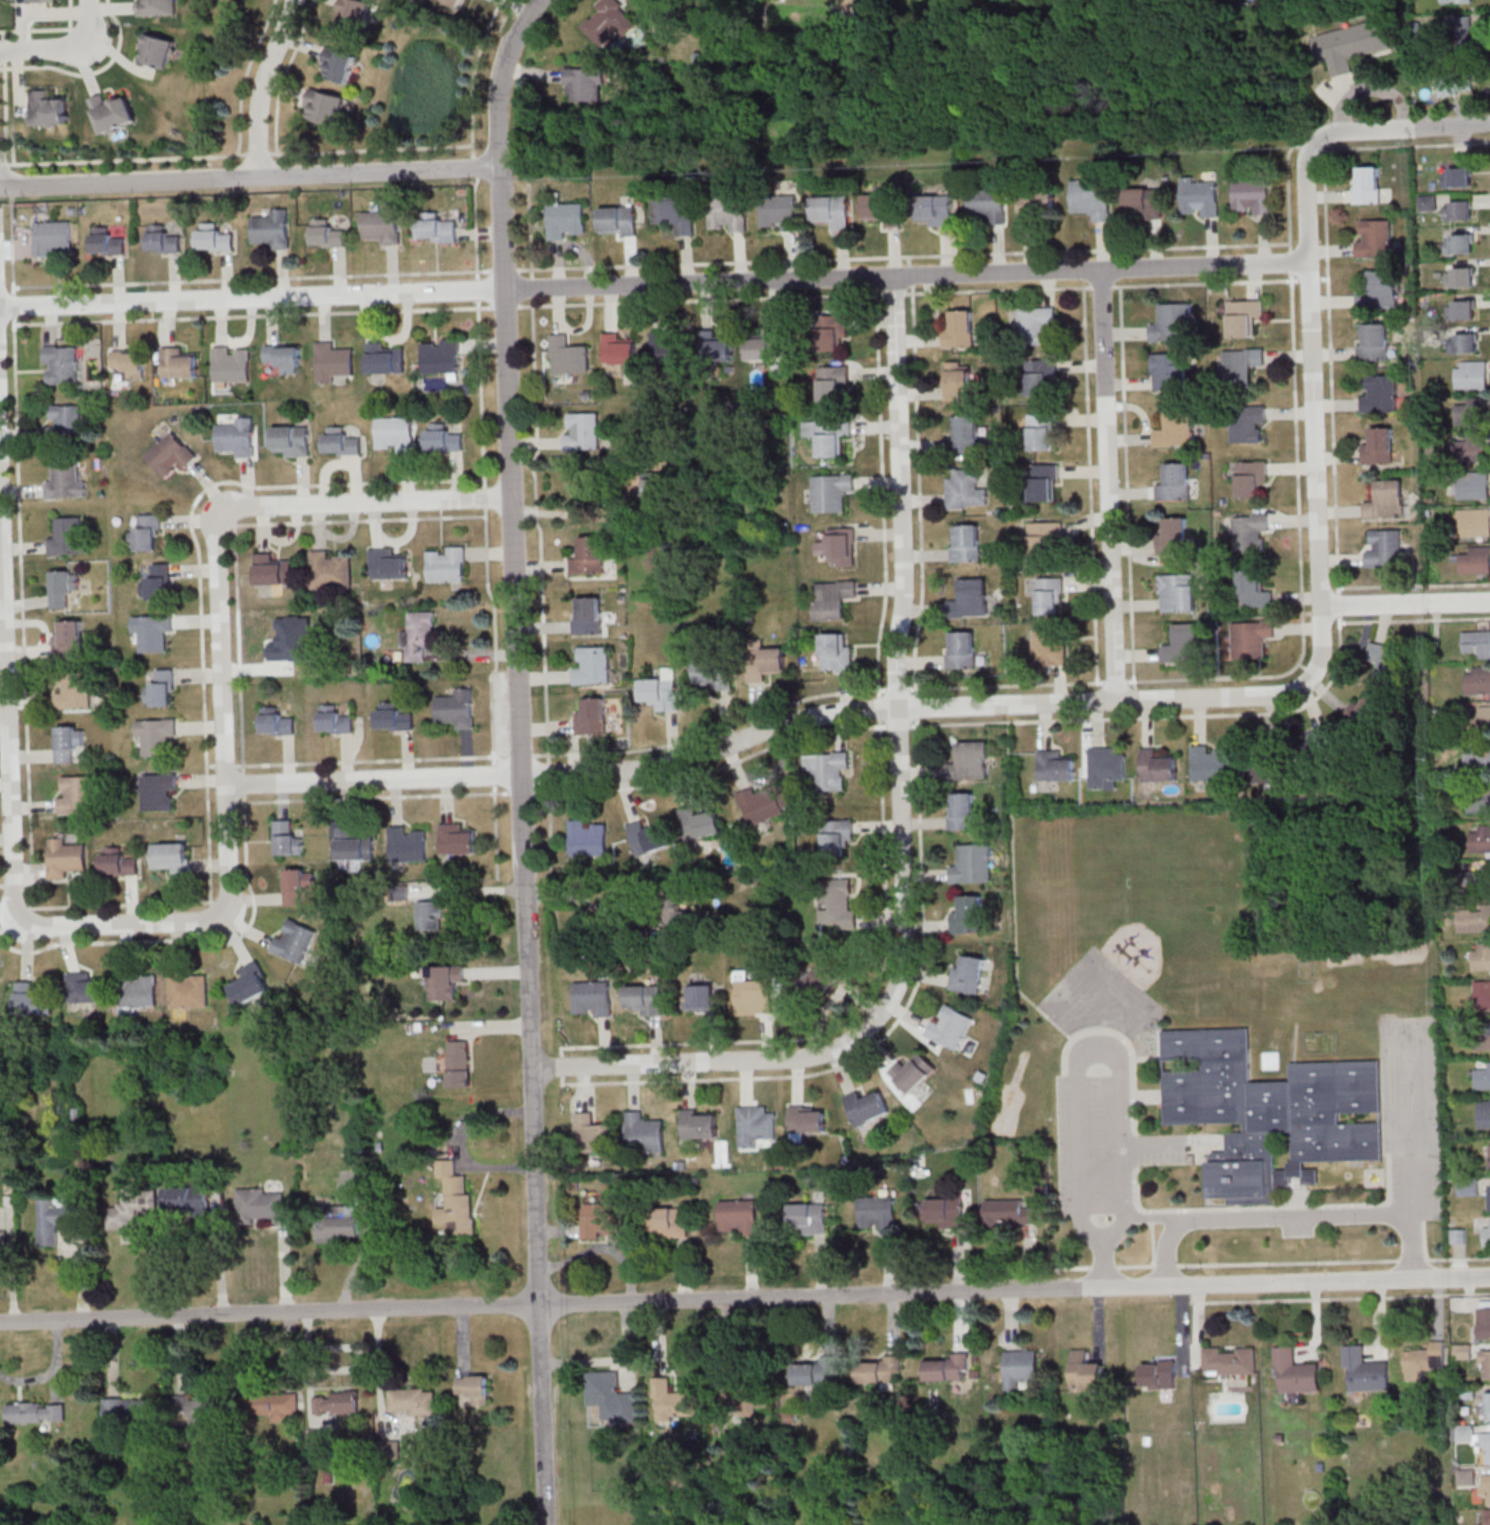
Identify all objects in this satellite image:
building: (31, 1)
building: (1456, 1)
building: (458, 3)
building: (155, 7)
building: (357, 12)
road: (72, 16)
building: (610, 22)
building: (1455, 26)
road: (82, 27)
road: (38, 29)
road: (6, 34)
road: (74, 36)
building: (1349, 45)
road: (62, 47)
road: (6, 50)
building: (156, 50)
building: (341, 64)
road: (0, 68)
road: (89, 71)
road: (247, 74)
road: (284, 74)
road: (473, 75)
building: (585, 83)
building: (1454, 83)
road: (262, 86)
building: (326, 107)
building: (46, 108)
building: (110, 111)
road: (8, 112)
road: (1401, 130)
road: (1403, 144)
road: (1309, 146)
road: (236, 154)
road: (474, 166)
building: (1456, 176)
road: (250, 178)
building: (1366, 184)
road: (8, 191)
road: (1288, 194)
building: (1199, 196)
building: (1250, 196)
building: (1092, 198)
building: (1144, 202)
building: (1427, 202)
building: (988, 204)
building: (1037, 204)
building: (826, 208)
building: (883, 208)
building: (935, 210)
building: (1456, 210)
building: (675, 212)
building: (779, 212)
building: (728, 213)
building: (618, 219)
building: (566, 220)
building: (382, 223)
road: (475, 227)
building: (271, 228)
building: (437, 228)
road: (530, 229)
building: (327, 233)
building: (48, 237)
building: (213, 238)
building: (161, 239)
building: (104, 241)
building: (1374, 241)
building: (1457, 244)
road: (9, 245)
road: (902, 256)
road: (908, 259)
road: (1290, 262)
road: (503, 270)
road: (910, 273)
building: (1458, 276)
road: (250, 278)
road: (1201, 282)
road: (654, 284)
road: (531, 286)
road: (1101, 286)
road: (477, 289)
road: (997, 289)
building: (1378, 289)
road: (711, 298)
road: (11, 305)
road: (505, 306)
building: (1464, 309)
road: (251, 314)
building: (1243, 316)
building: (1172, 322)
building: (1037, 325)
building: (960, 329)
building: (831, 330)
building: (1373, 341)
building: (1465, 342)
building: (764, 344)
building: (665, 346)
building: (715, 346)
building: (620, 348)
building: (440, 355)
building: (569, 355)
building: (284, 356)
building: (384, 358)
building: (333, 361)
building: (130, 362)
building: (178, 363)
building: (60, 364)
building: (232, 364)
building: (1241, 364)
building: (1169, 371)
road: (1329, 371)
building: (1469, 373)
building: (1041, 376)
road: (1312, 376)
building: (958, 381)
building: (834, 384)
road: (480, 393)
building: (1380, 394)
building: (1469, 412)
building: (66, 420)
building: (1248, 424)
building: (1175, 427)
building: (583, 431)
building: (1042, 431)
building: (967, 433)
building: (395, 434)
building: (828, 435)
building: (236, 437)
building: (443, 438)
building: (291, 440)
building: (341, 441)
building: (1378, 446)
building: (1471, 448)
building: (170, 455)
building: (1251, 477)
building: (64, 481)
building: (1044, 482)
building: (1175, 482)
road: (1090, 484)
building: (1472, 484)
road: (1109, 485)
building: (965, 488)
building: (651, 489)
road: (919, 490)
building: (830, 491)
road: (882, 495)
road: (485, 496)
building: (1385, 500)
road: (1126, 501)
road: (566, 513)
road: (357, 519)
building: (1473, 521)
road: (539, 527)
building: (1250, 531)
building: (146, 533)
building: (69, 536)
building: (1173, 537)
building: (1045, 539)
building: (965, 543)
building: (839, 546)
building: (1383, 548)
road: (199, 552)
building: (589, 555)
building: (1475, 560)
building: (446, 563)
building: (388, 564)
road: (220, 567)
building: (330, 569)
building: (272, 570)
building: (157, 583)
road: (1413, 585)
building: (64, 588)
building: (1251, 589)
building: (1177, 592)
building: (1050, 595)
building: (969, 597)
building: (832, 598)
road: (1338, 605)
road: (1406, 606)
road: (21, 611)
building: (588, 615)
road: (1414, 619)
building: (152, 631)
building: (419, 635)
road: (494, 635)
building: (1250, 638)
building: (69, 639)
road: (899, 641)
building: (1183, 643)
building: (1476, 643)
road: (238, 647)
building: (1049, 648)
building: (961, 649)
building: (836, 651)
building: (762, 660)
building: (1384, 661)
building: (591, 664)
road: (1295, 664)
building: (714, 674)
building: (1477, 679)
road: (896, 688)
building: (73, 689)
building: (161, 689)
building: (662, 690)
road: (915, 706)
road: (878, 707)
building: (457, 708)
building: (1365, 710)
building: (591, 716)
road: (1158, 716)
building: (1482, 716)
building: (393, 717)
building: (334, 719)
road: (804, 722)
building: (278, 723)
road: (898, 725)
road: (713, 728)
building: (155, 734)
building: (1315, 741)
building: (68, 742)
road: (500, 755)
road: (521, 755)
road: (523, 758)
building: (1477, 758)
road: (363, 760)
building: (970, 760)
building: (1210, 763)
road: (209, 765)
road: (224, 765)
building: (1055, 765)
building: (1105, 766)
building: (1157, 766)
road: (714, 768)
building: (828, 769)
building: (1263, 770)
road: (548, 773)
road: (493, 774)
road: (243, 783)
building: (157, 789)
road: (522, 791)
building: (75, 794)
road: (372, 796)
building: (1479, 798)
road: (10, 800)
road: (232, 801)
building: (764, 804)
building: (960, 810)
road: (548, 815)
building: (699, 823)
road: (495, 830)
building: (837, 835)
building: (587, 837)
building: (649, 837)
building: (287, 838)
building: (457, 839)
building: (1480, 839)
building: (408, 843)
building: (354, 845)
building: (65, 857)
building: (170, 857)
building: (118, 862)
building: (972, 863)
building: (1476, 881)
road: (6, 886)
building: (295, 886)
road: (1013, 892)
road: (219, 901)
road: (590, 902)
road: (120, 904)
building: (838, 907)
building: (673, 910)
road: (210, 912)
building: (431, 915)
building: (968, 915)
building: (1474, 919)
road: (193, 940)
building: (294, 941)
building: (1481, 956)
building: (968, 974)
building: (0, 977)
building: (824, 980)
building: (445, 981)
building: (250, 984)
building: (84, 988)
building: (188, 989)
building: (138, 990)
building: (753, 994)
building: (1483, 994)
building: (700, 996)
building: (592, 998)
building: (645, 998)
building: (32, 999)
building: (950, 1027)
building: (1485, 1035)
road: (1124, 1040)
road: (720, 1061)
road: (1120, 1061)
building: (458, 1063)
building: (913, 1071)
building: (1483, 1077)
road: (571, 1083)
building: (866, 1106)
building: (1484, 1112)
building: (1270, 1113)
building: (808, 1118)
road: (1411, 1121)
building: (700, 1123)
building: (756, 1124)
building: (644, 1133)
building: (593, 1134)
road: (1134, 1149)
building: (453, 1199)
building: (187, 1200)
building: (262, 1206)
road: (1268, 1207)
building: (131, 1209)
building: (876, 1212)
building: (945, 1212)
building: (1010, 1212)
building: (738, 1216)
road: (1151, 1216)
building: (809, 1217)
road: (1295, 1217)
building: (54, 1219)
building: (602, 1220)
road: (1424, 1220)
building: (669, 1222)
building: (339, 1223)
building: (1486, 1233)
building: (3, 1242)
road: (1152, 1244)
road: (1458, 1258)
road: (1412, 1259)
road: (1222, 1263)
road: (1341, 1297)
road: (744, 1298)
building: (1484, 1320)
building: (1427, 1357)
building: (1230, 1361)
building: (1484, 1364)
building: (947, 1367)
building: (1020, 1367)
building: (880, 1370)
road: (49, 1371)
building: (1087, 1371)
building: (1365, 1371)
building: (818, 1374)
building: (1159, 1374)
building: (1295, 1374)
building: (474, 1388)
building: (611, 1397)
building: (746, 1397)
building: (412, 1400)
building: (674, 1400)
building: (336, 1402)
building: (272, 1405)
building: (1487, 1405)
building: (127, 1410)
building: (196, 1410)
building: (35, 1412)
building: (1466, 1432)
building: (1486, 1447)
building: (1466, 1477)
building: (1487, 1488)
building: (1487, 1516)

